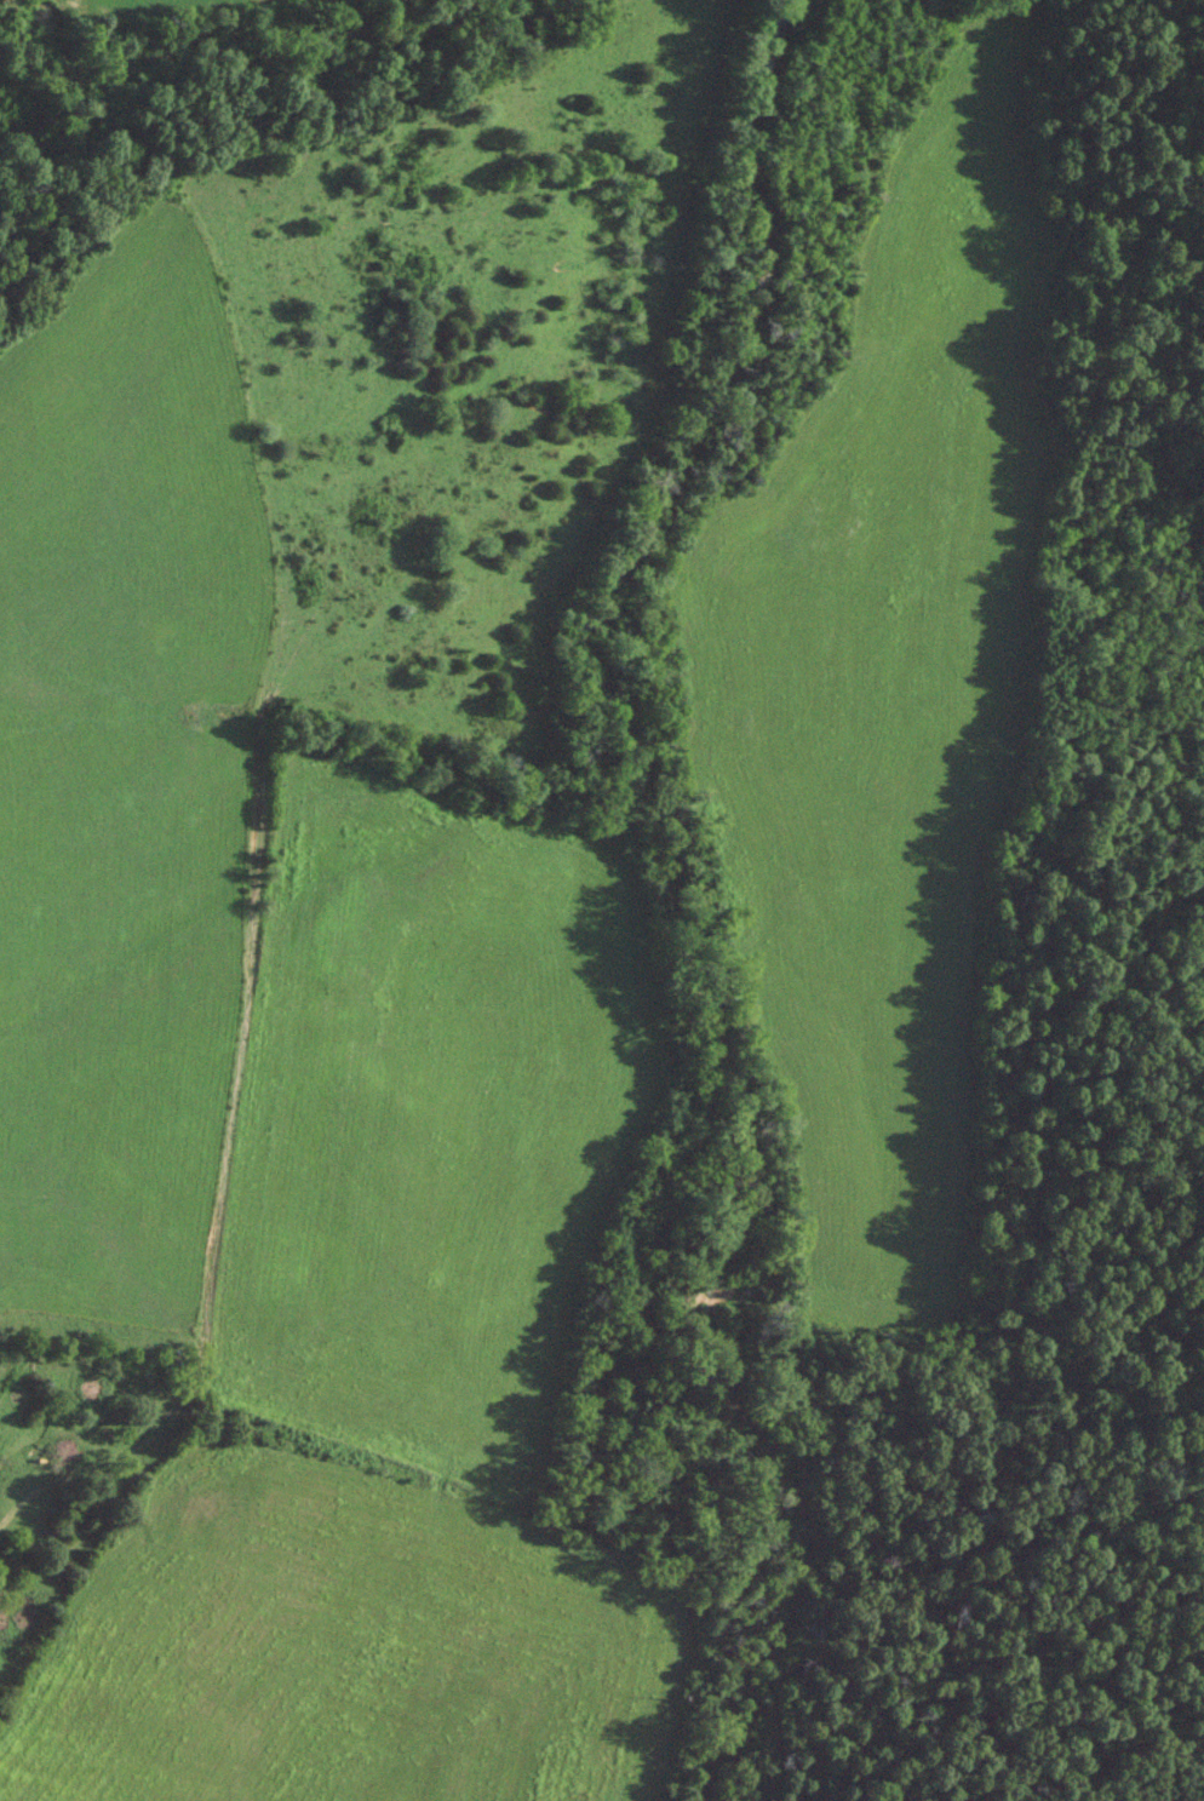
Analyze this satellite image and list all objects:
road: (223, 1153)

